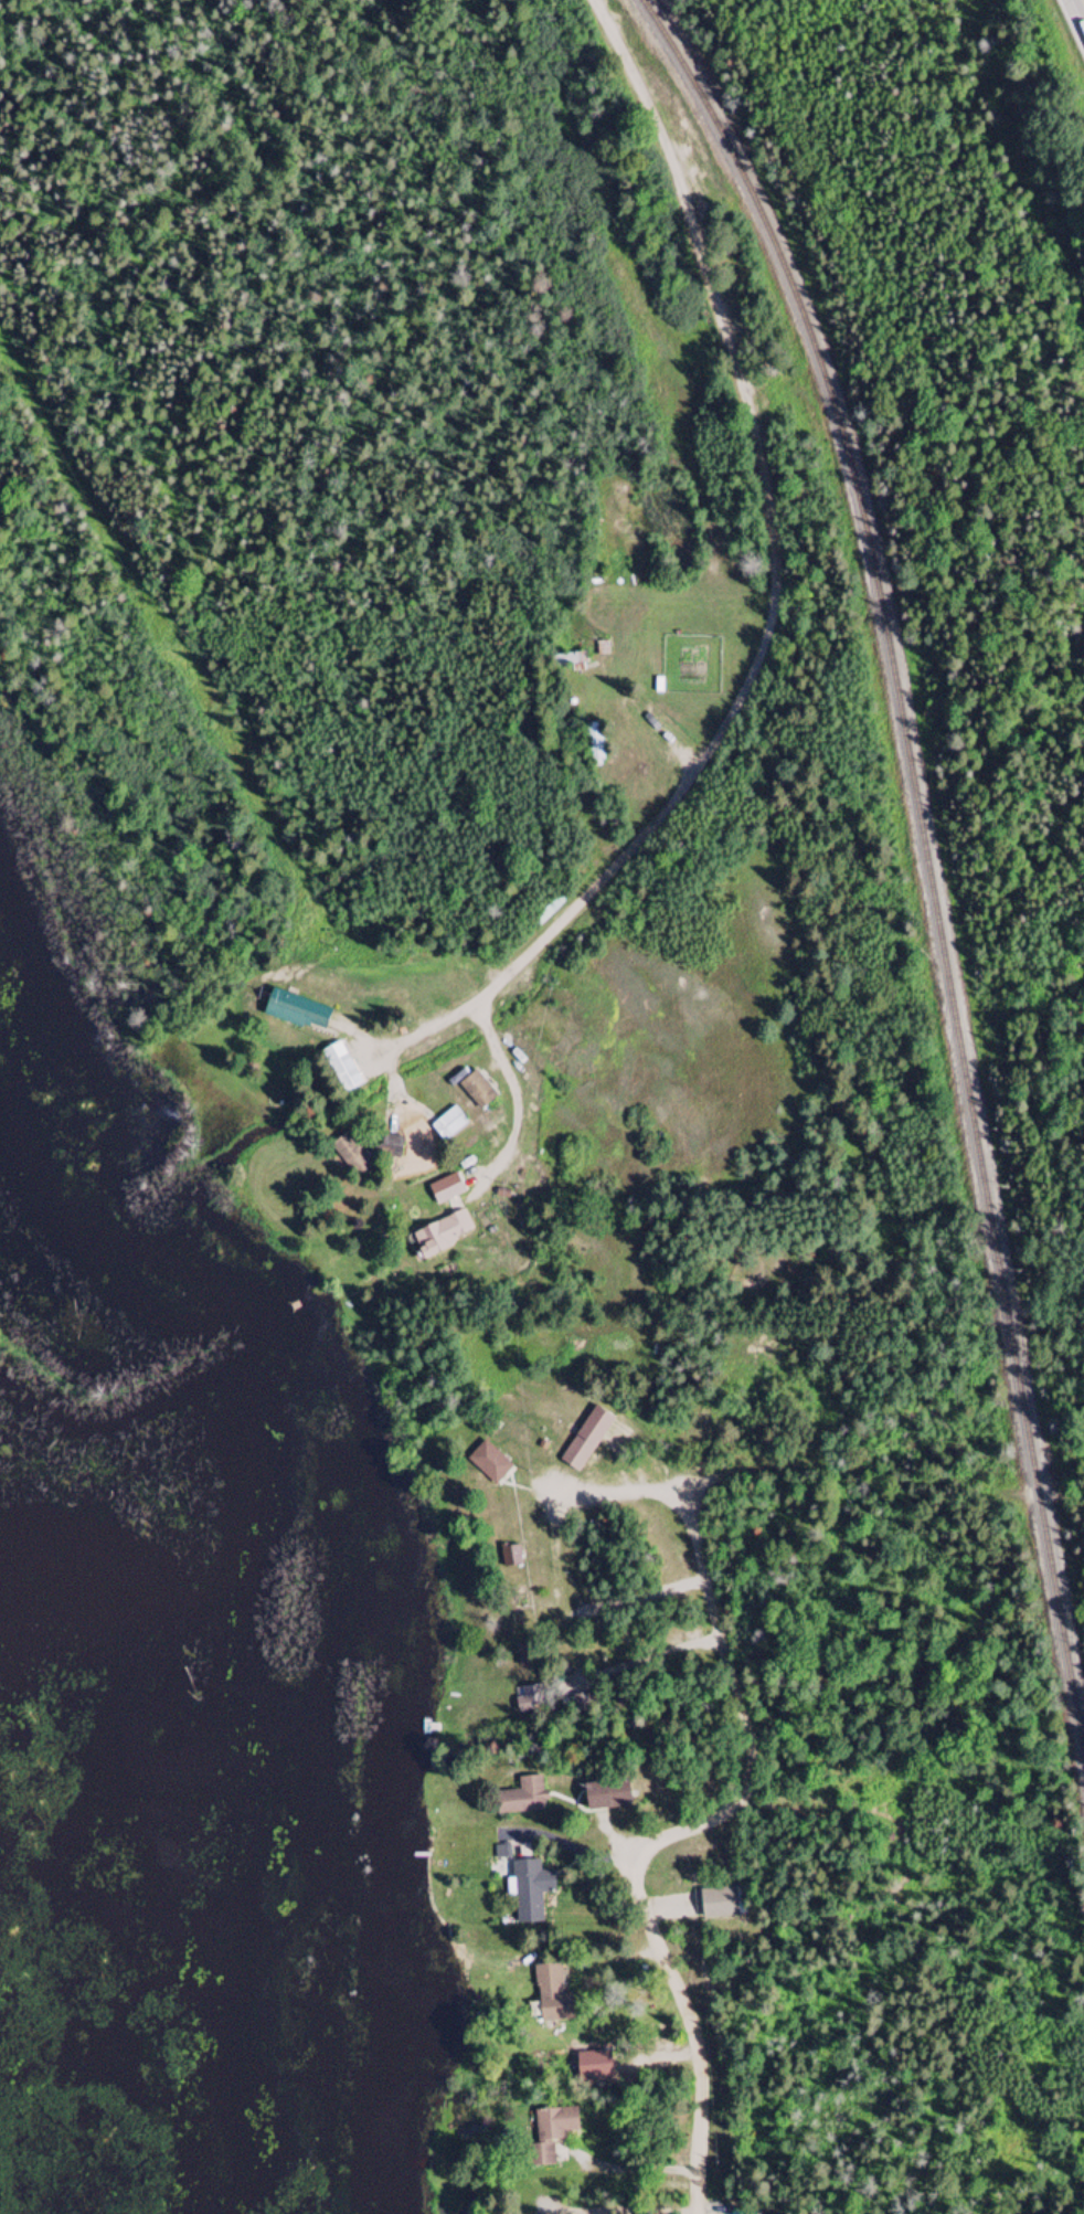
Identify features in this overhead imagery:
road: (1083, 1)
road: (777, 593)
building: (571, 659)
road: (657, 727)
building: (594, 745)
railway: (926, 856)
building: (296, 1011)
building: (342, 1068)
building: (477, 1091)
building: (449, 1125)
building: (393, 1147)
building: (354, 1158)
building: (442, 1236)
building: (586, 1441)
building: (489, 1464)
road: (879, 1469)
road: (619, 1492)
building: (511, 1558)
building: (606, 1797)
building: (522, 1800)
road: (665, 1839)
road: (566, 1844)
building: (531, 1892)
road: (625, 1958)
building: (552, 1995)
building: (551, 2134)
road: (639, 2176)

